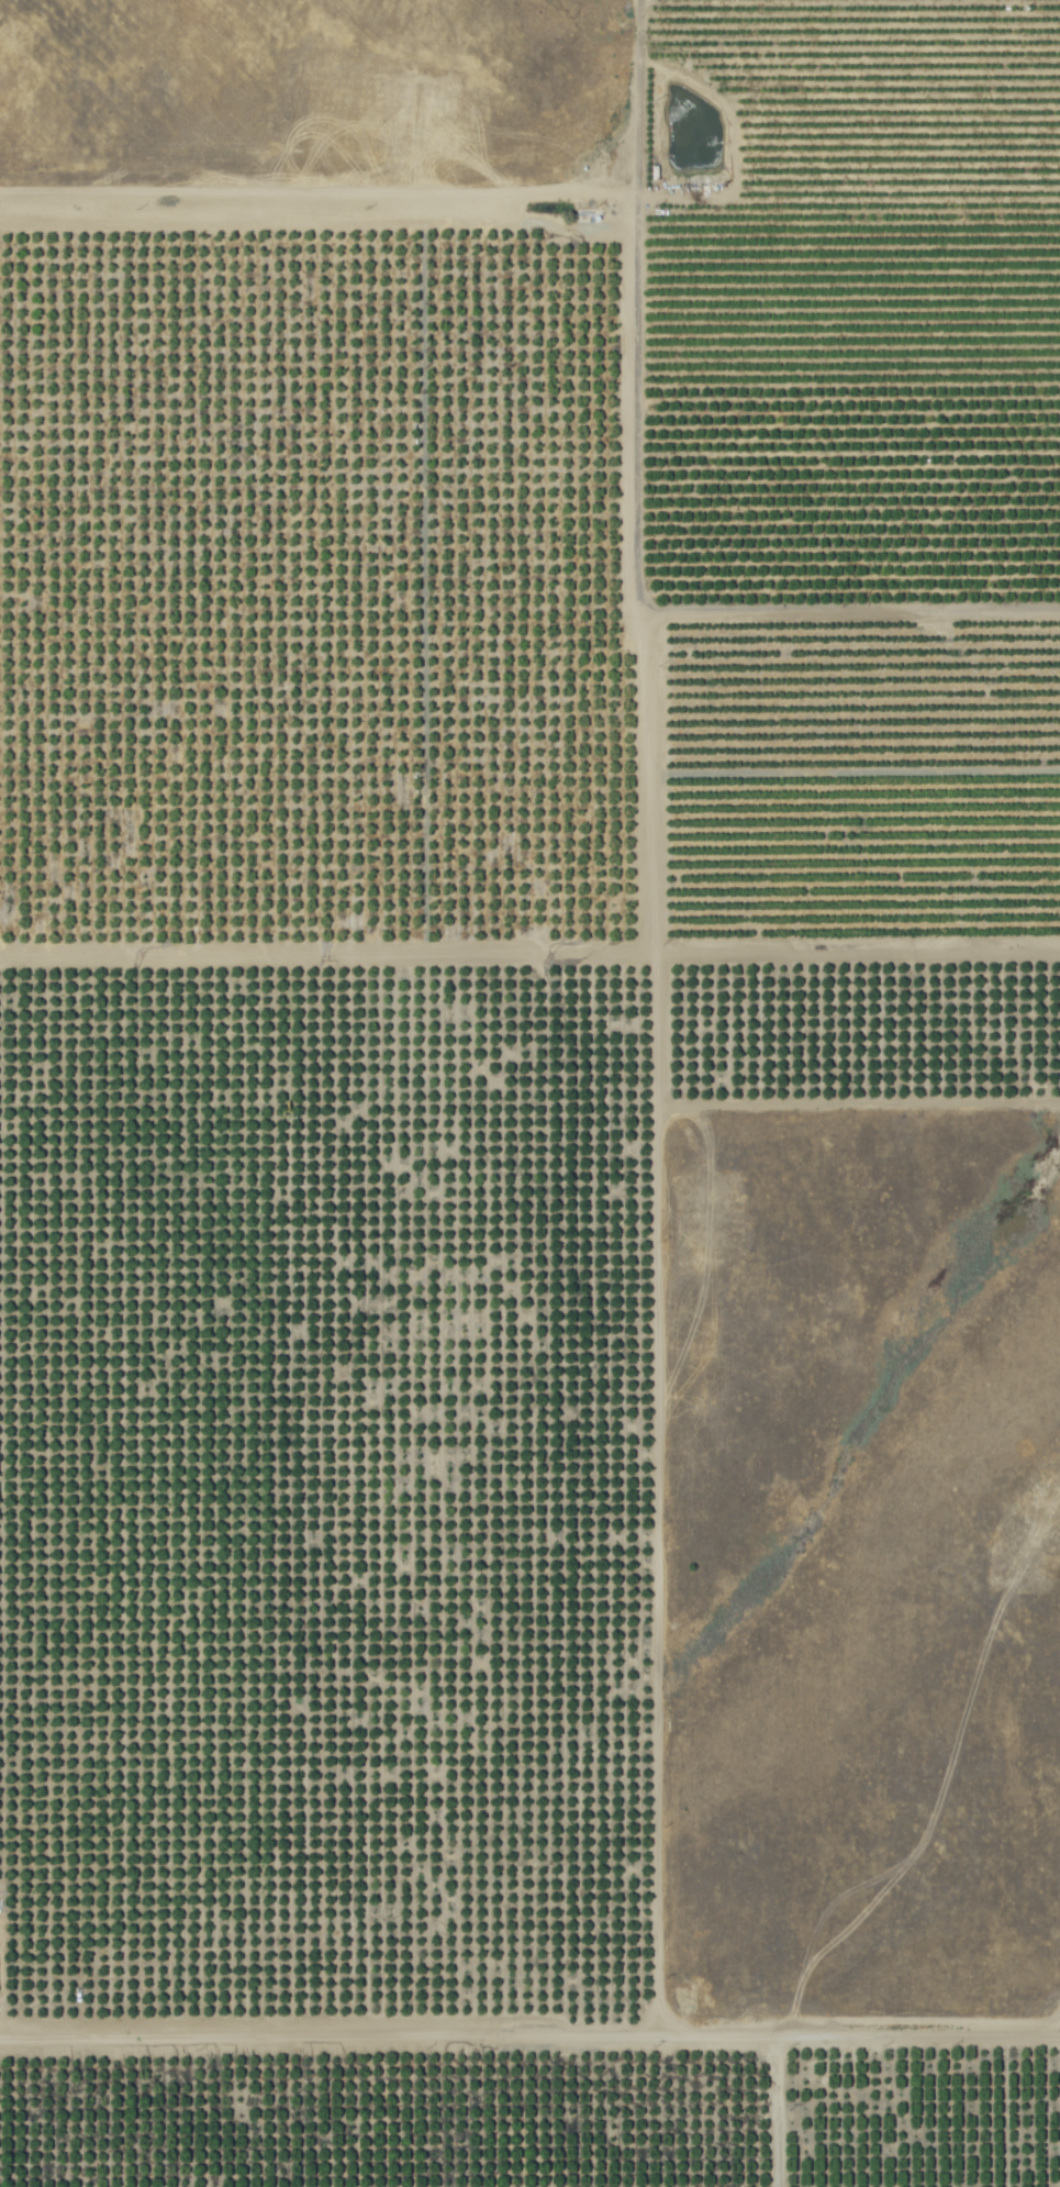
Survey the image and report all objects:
road: (312, 233)
road: (644, 984)

